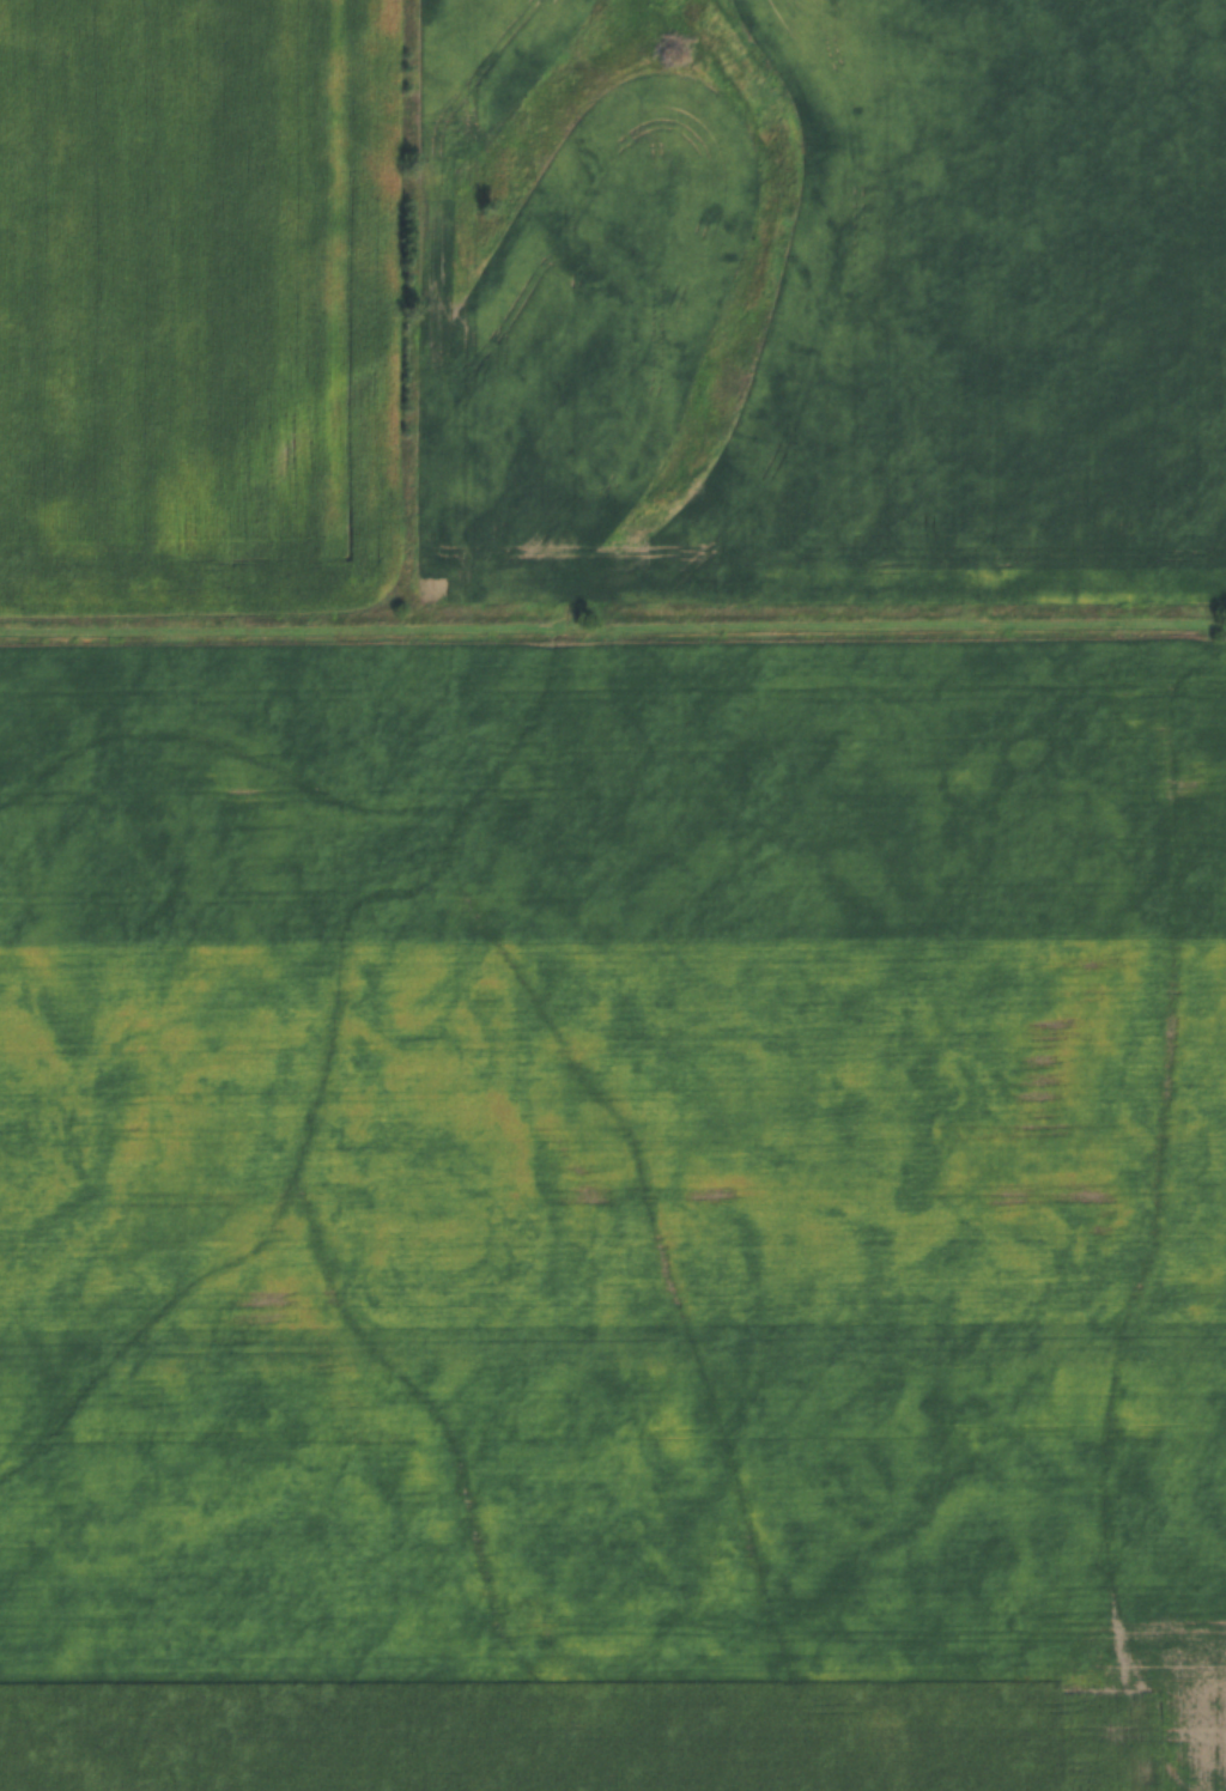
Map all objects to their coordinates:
road: (613, 631)

